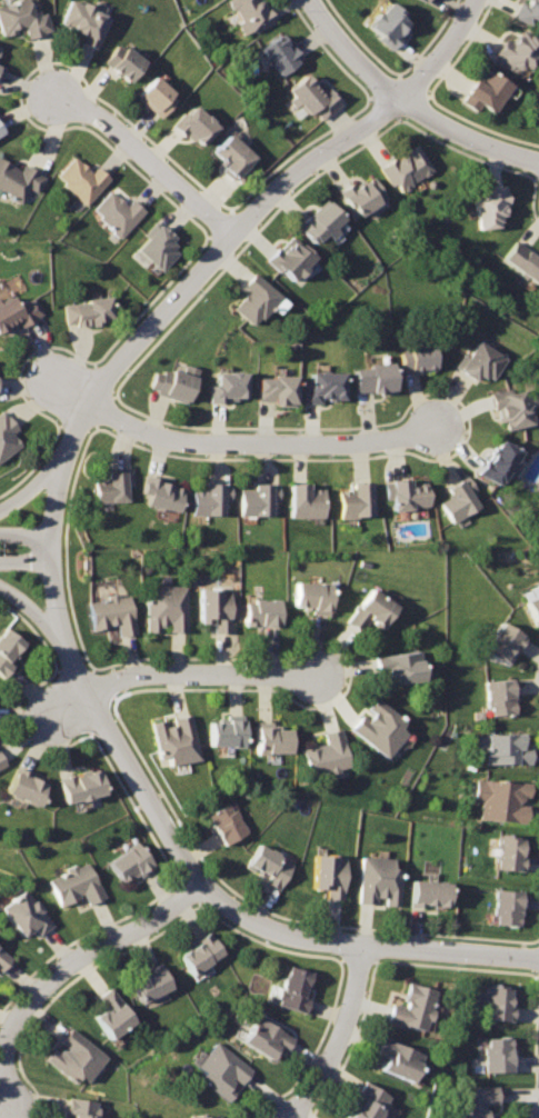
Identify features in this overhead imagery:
building: (423, 0)
building: (426, 0)
building: (526, 12)
building: (249, 14)
building: (22, 18)
building: (81, 20)
building: (389, 27)
road: (355, 50)
road: (441, 51)
building: (516, 51)
building: (0, 52)
building: (280, 54)
building: (121, 61)
building: (483, 91)
building: (154, 99)
building: (313, 99)
building: (196, 126)
building: (0, 131)
road: (467, 136)
road: (146, 156)
building: (232, 156)
building: (403, 168)
building: (81, 179)
building: (18, 180)
building: (360, 196)
building: (488, 210)
building: (117, 213)
building: (318, 223)
building: (157, 247)
building: (289, 260)
building: (522, 261)
building: (254, 301)
building: (18, 309)
building: (88, 311)
building: (413, 358)
building: (479, 361)
building: (372, 380)
building: (170, 381)
road: (67, 387)
building: (227, 387)
building: (321, 389)
building: (276, 390)
building: (510, 407)
building: (7, 436)
road: (73, 440)
road: (263, 446)
building: (499, 462)
building: (110, 488)
building: (161, 495)
building: (406, 497)
building: (210, 500)
building: (306, 501)
building: (356, 501)
building: (256, 502)
building: (458, 502)
road: (26, 531)
road: (27, 559)
building: (530, 591)
building: (311, 595)
building: (532, 605)
building: (214, 607)
building: (368, 608)
building: (167, 609)
building: (262, 611)
building: (111, 612)
road: (46, 616)
building: (499, 640)
building: (8, 648)
building: (396, 667)
road: (203, 673)
building: (498, 695)
road: (68, 711)
building: (380, 728)
building: (223, 733)
building: (272, 740)
building: (172, 741)
building: (501, 747)
building: (327, 755)
building: (2, 762)
building: (79, 786)
building: (23, 788)
building: (502, 800)
building: (227, 822)
building: (510, 852)
building: (127, 862)
building: (269, 862)
building: (328, 875)
building: (378, 879)
building: (73, 886)
building: (430, 891)
building: (509, 907)
building: (24, 912)
road: (361, 944)
building: (197, 952)
building: (3, 962)
road: (63, 966)
building: (147, 982)
building: (293, 987)
building: (497, 1000)
building: (412, 1006)
building: (109, 1011)
building: (264, 1037)
road: (342, 1037)
building: (497, 1052)
building: (72, 1055)
building: (399, 1057)
building: (221, 1069)
building: (477, 1101)
building: (367, 1102)
building: (77, 1108)
building: (200, 1116)

